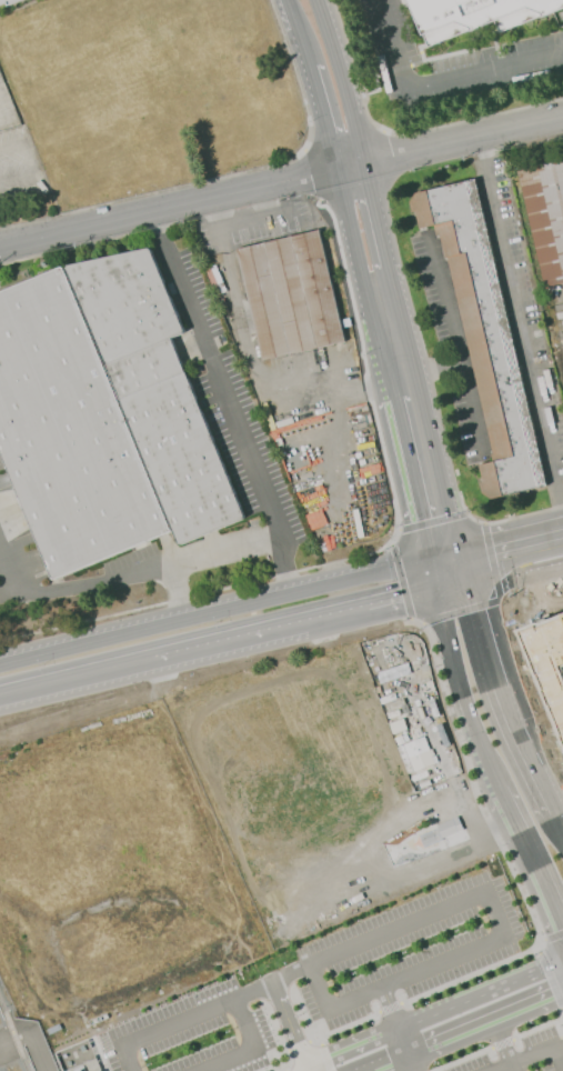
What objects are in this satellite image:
building: (8, 1)
building: (476, 16)
road: (290, 30)
road: (441, 79)
road: (341, 82)
road: (315, 117)
road: (27, 166)
road: (281, 184)
road: (265, 204)
building: (545, 214)
road: (379, 216)
road: (244, 222)
road: (360, 281)
building: (290, 297)
road: (520, 332)
building: (483, 336)
road: (453, 346)
road: (255, 368)
road: (435, 368)
road: (227, 403)
road: (423, 410)
building: (102, 413)
road: (406, 474)
road: (511, 539)
traffic signals: (460, 552)
road: (444, 555)
traffic signals: (429, 560)
road: (465, 564)
road: (516, 564)
road: (140, 569)
road: (432, 573)
road: (8, 577)
traffic signals: (471, 578)
road: (453, 582)
traffic signals: (435, 587)
road: (173, 591)
road: (393, 595)
road: (410, 611)
road: (213, 612)
road: (443, 618)
road: (299, 619)
road: (197, 645)
building: (547, 669)
road: (74, 678)
road: (502, 695)
road: (473, 722)
building: (418, 753)
road: (556, 824)
building: (440, 831)
road: (472, 849)
road: (531, 862)
road: (490, 883)
road: (50, 927)
road: (553, 968)
road: (290, 972)
parking lot: (374, 995)
road: (470, 998)
road: (388, 1005)
road: (280, 1008)
road: (485, 1019)
road: (163, 1025)
railway: (13, 1038)
road: (402, 1040)
road: (503, 1043)
road: (350, 1044)
road: (253, 1048)
road: (36, 1051)
road: (534, 1055)
road: (389, 1059)
road: (411, 1061)
road: (363, 1069)
building: (99, 1070)

